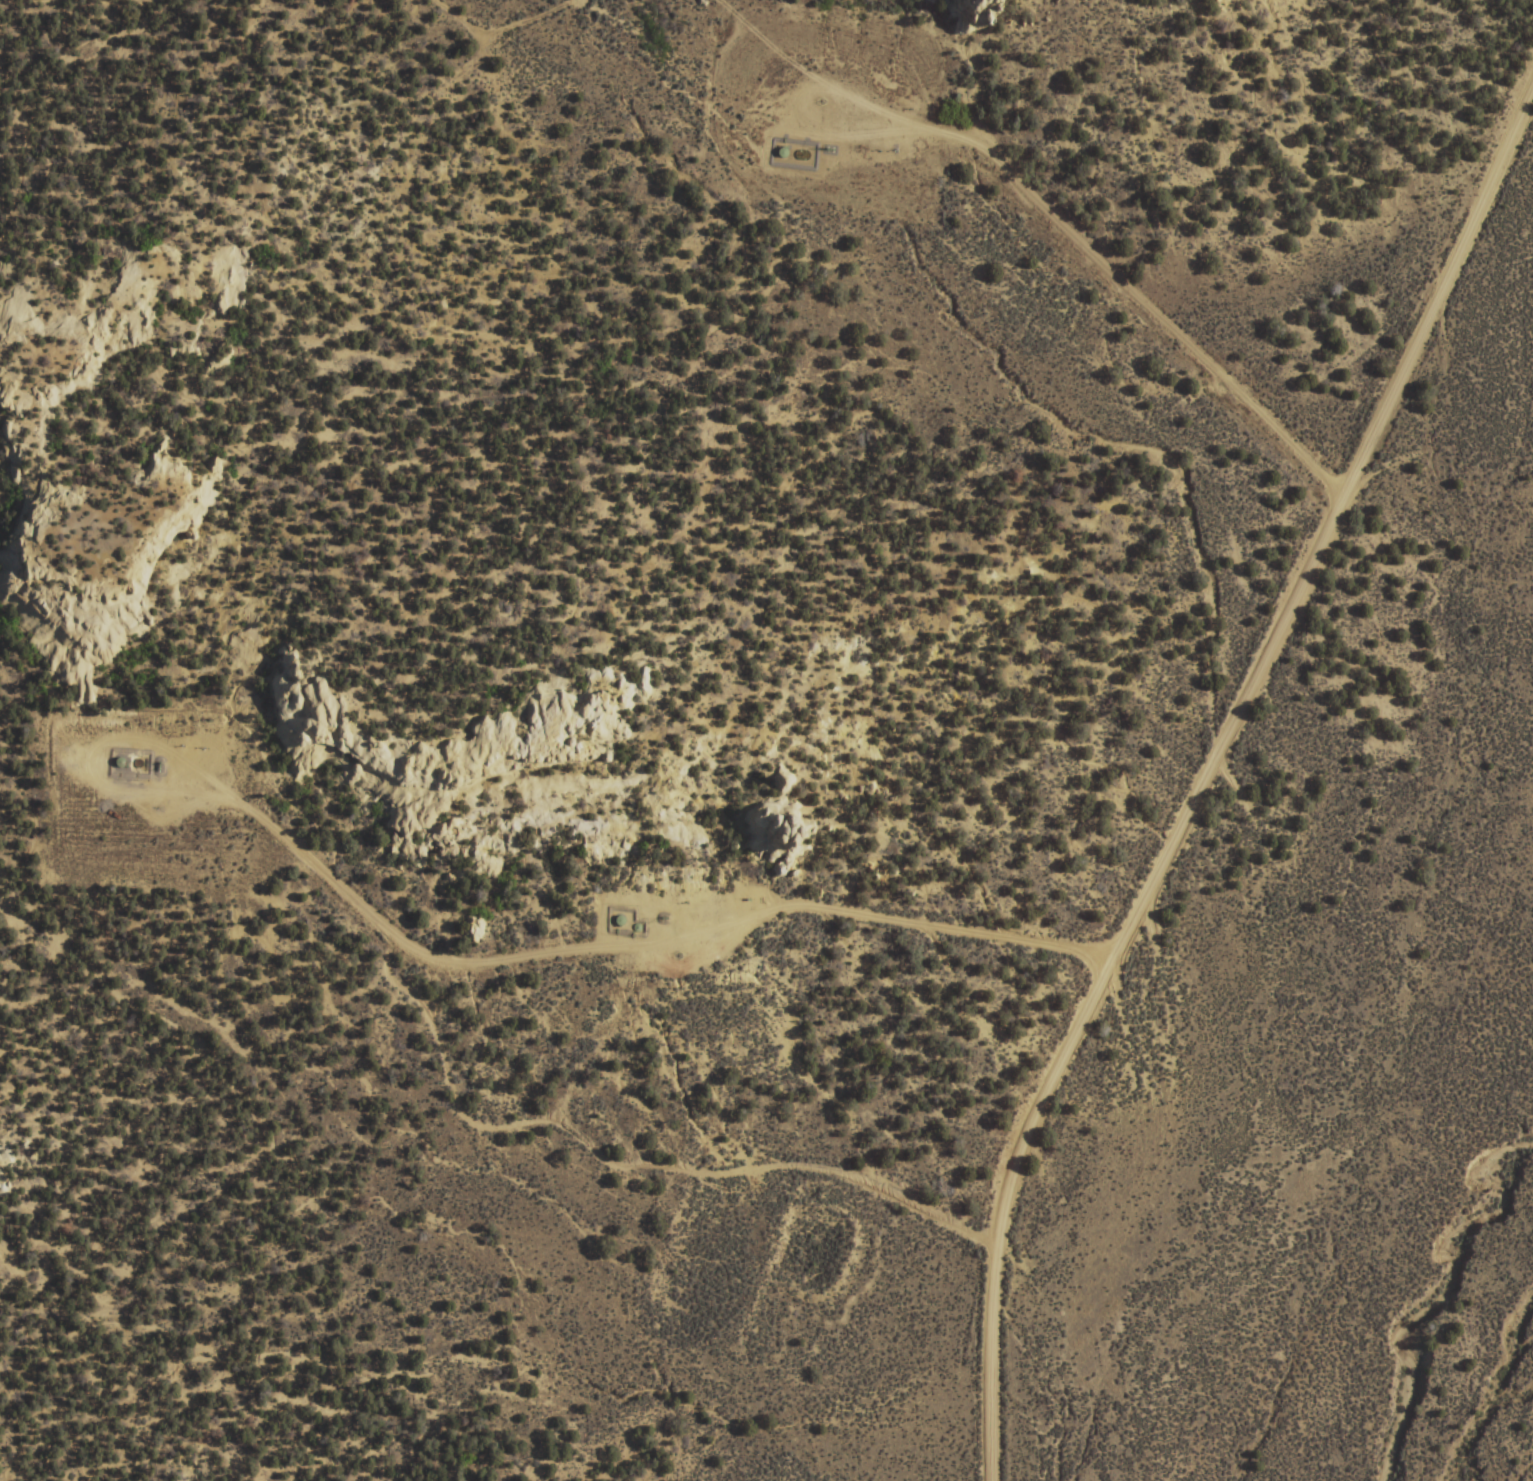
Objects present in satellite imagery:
road: (1169, 769)
road: (831, 1195)
river: (1438, 1276)
road: (1507, 1411)

